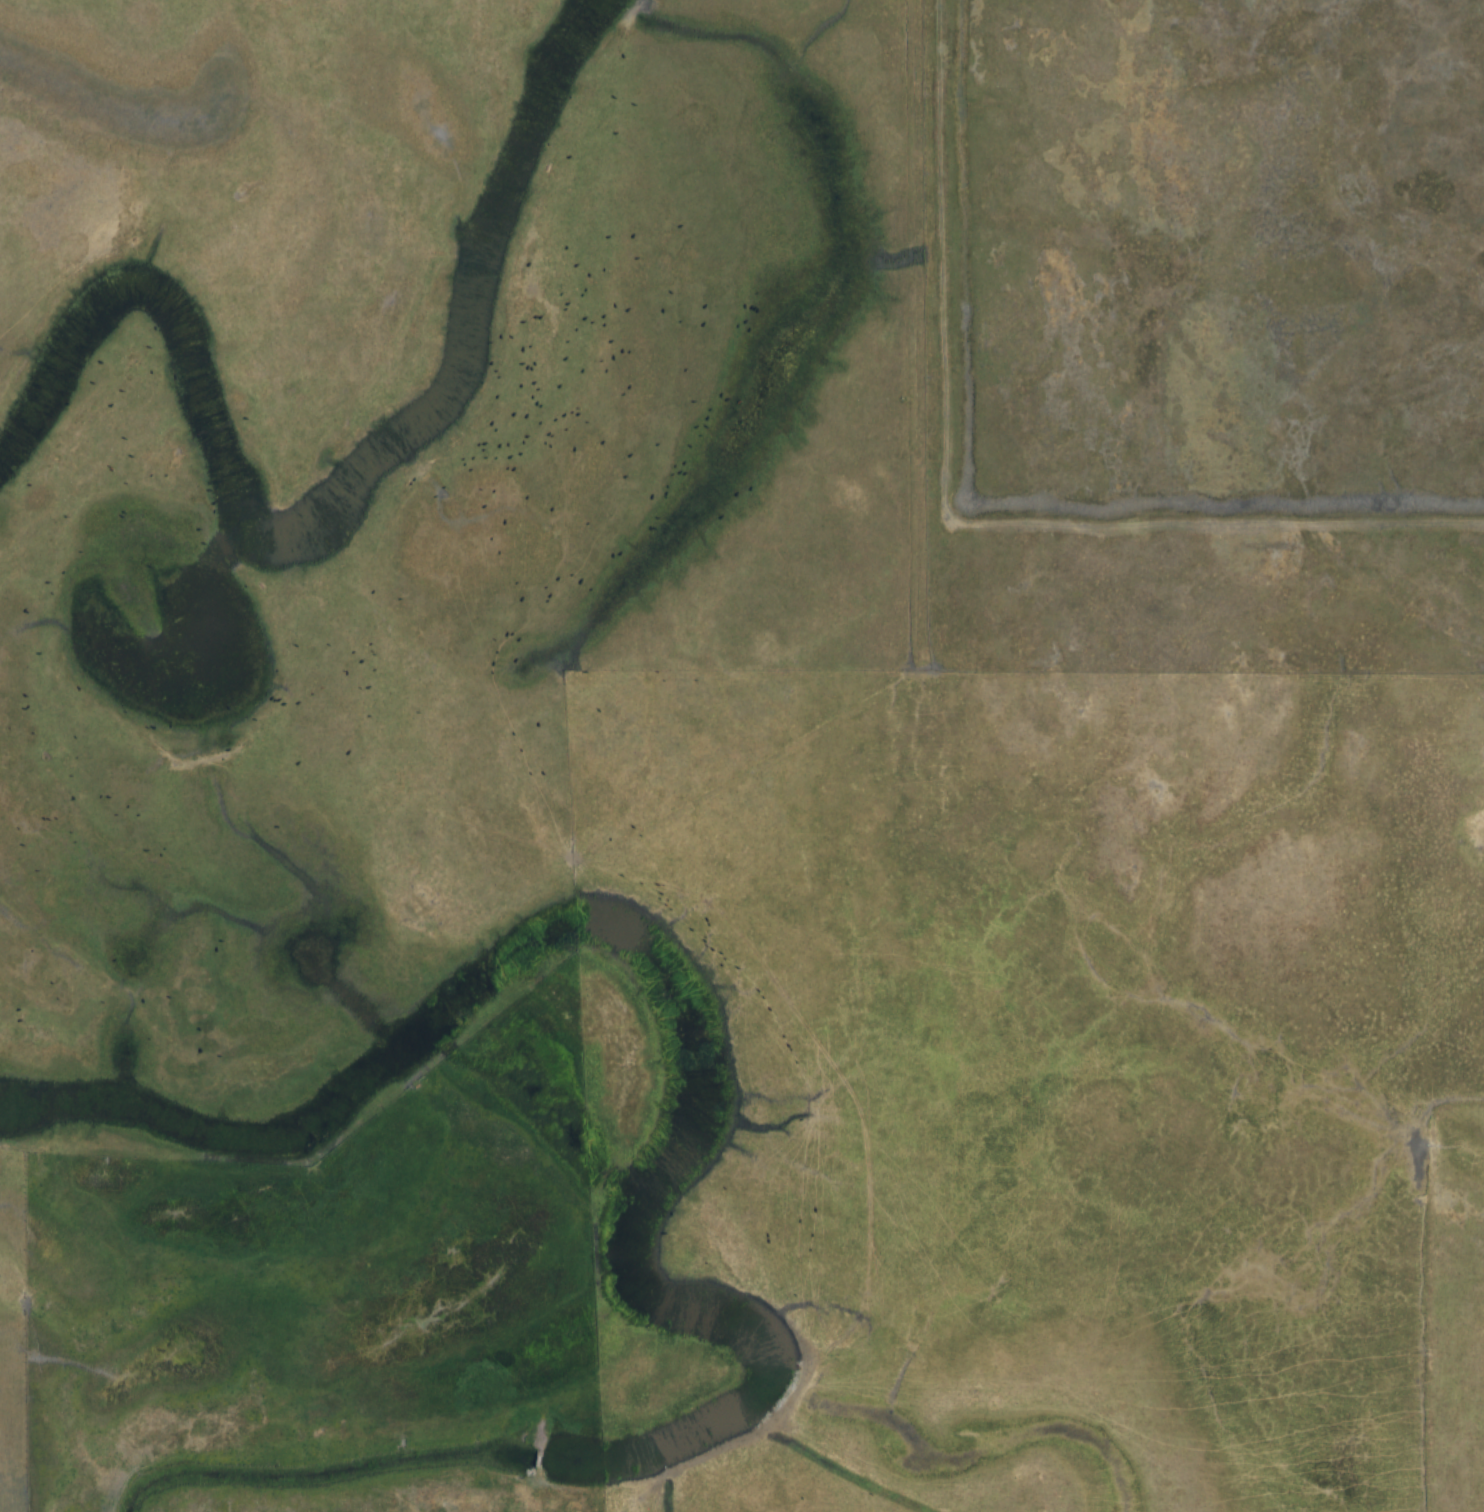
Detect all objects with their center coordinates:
crop: (335, 1307)
crop: (13, 1335)

